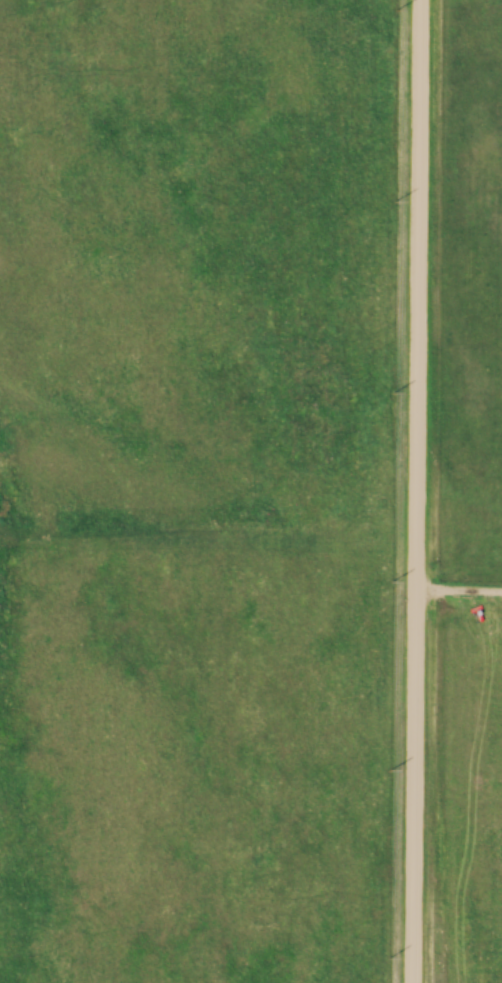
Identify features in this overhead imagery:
road: (417, 491)
road: (459, 598)

